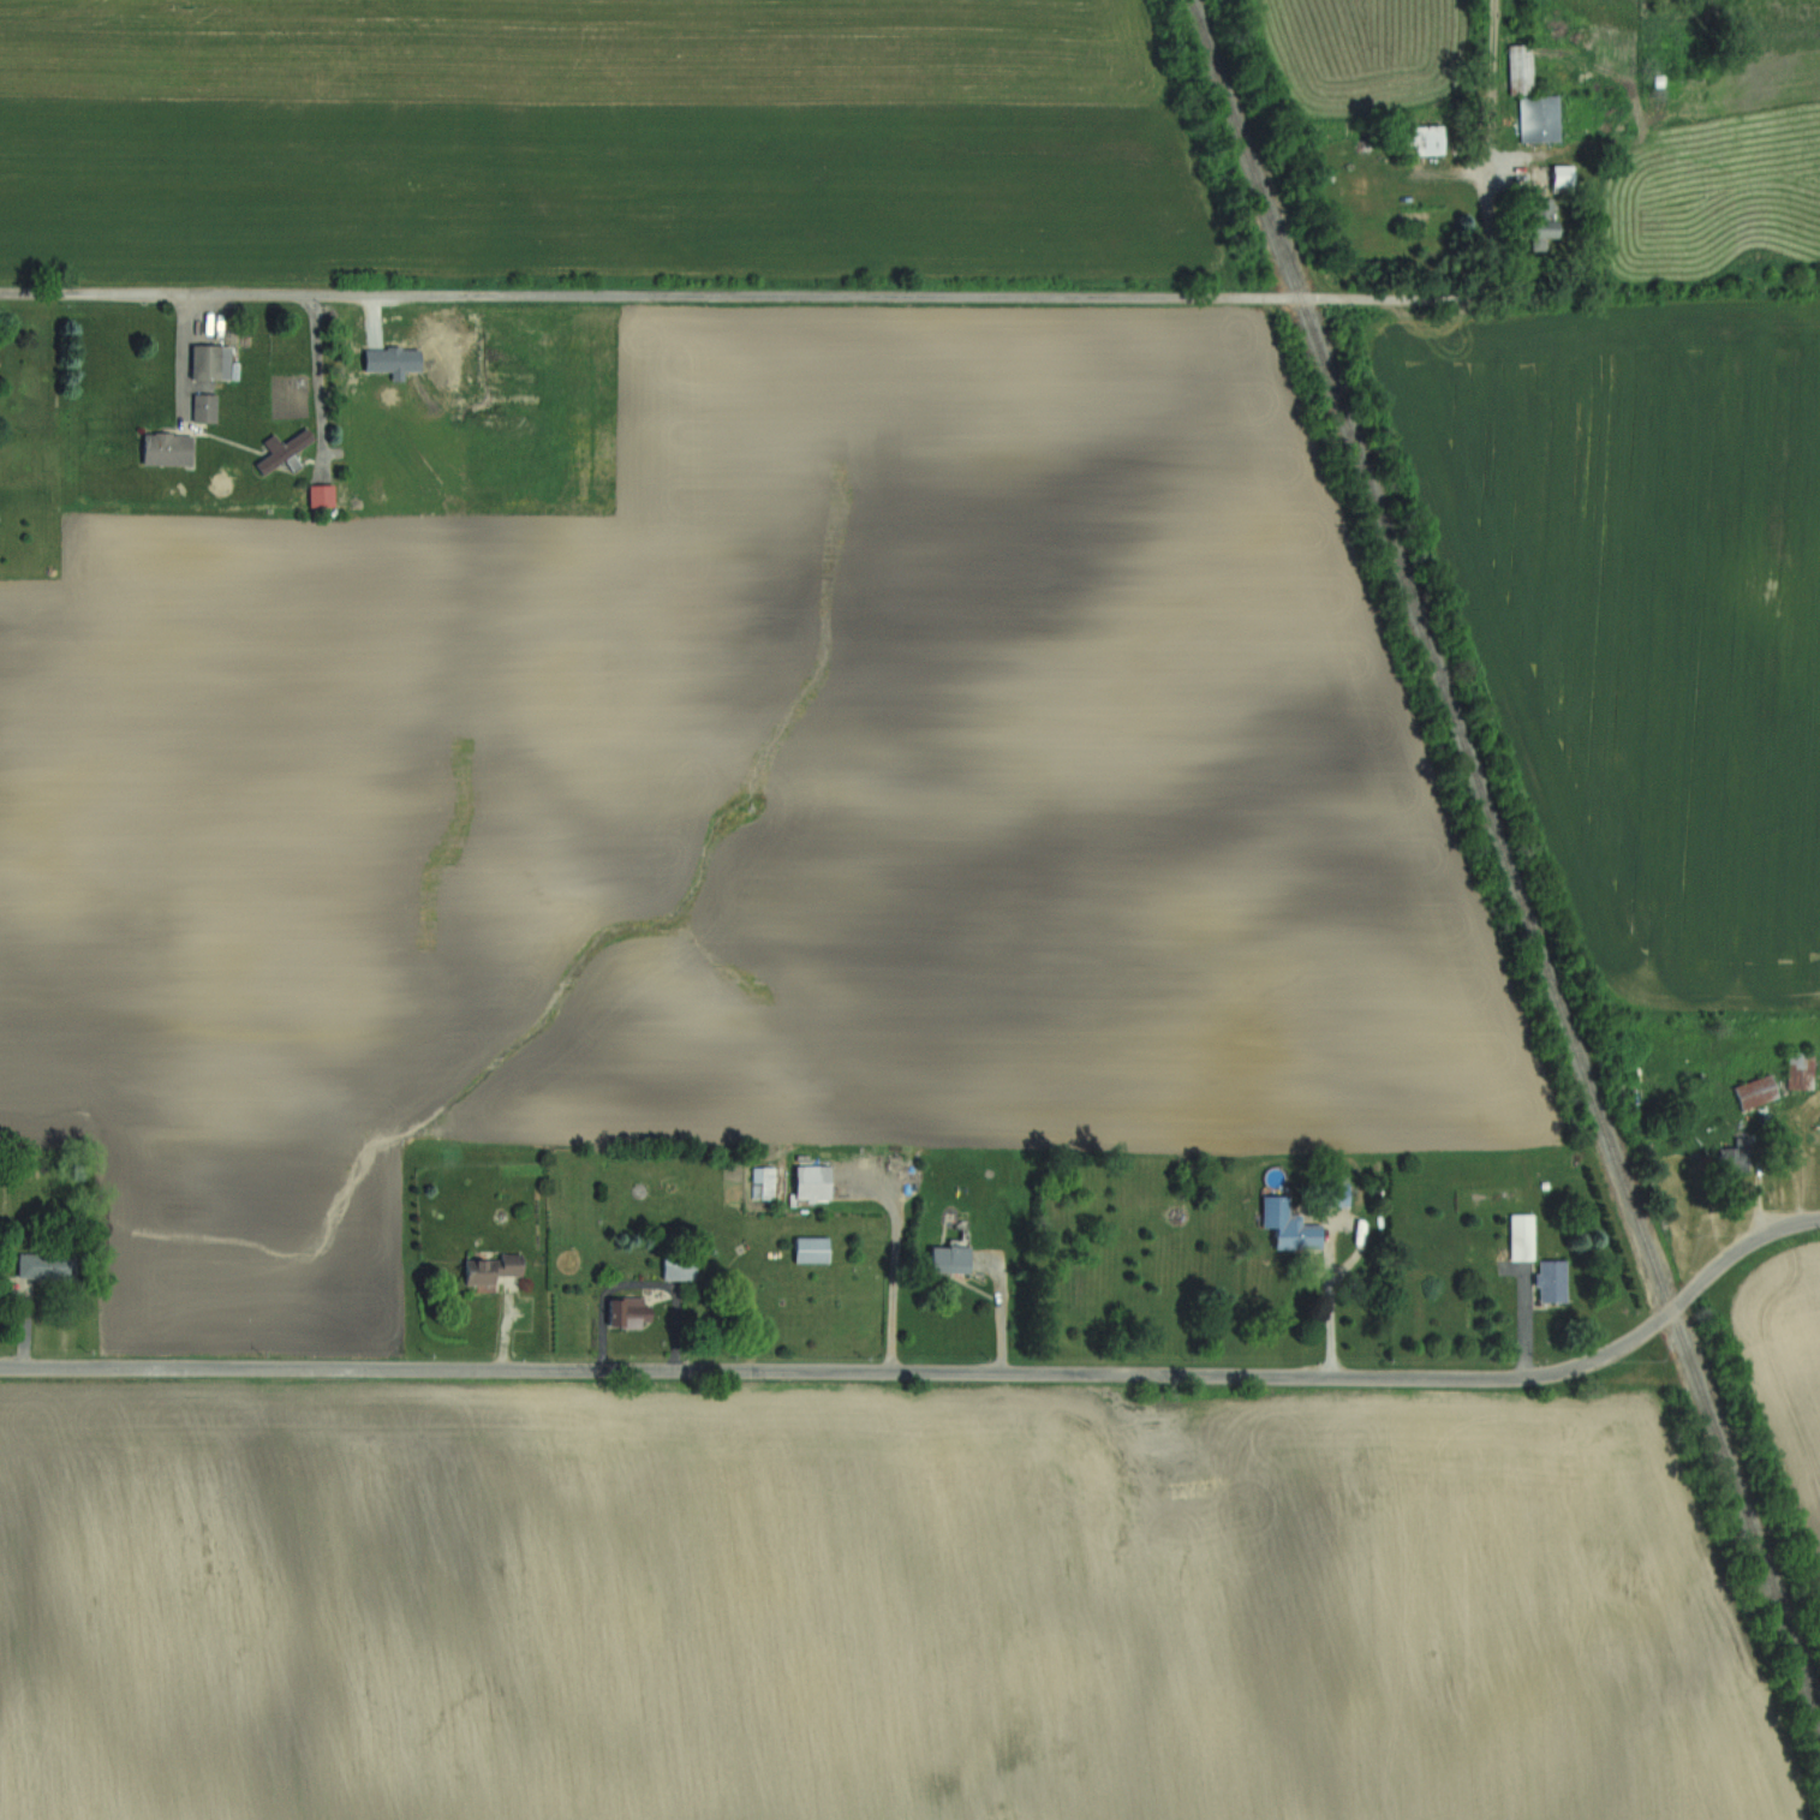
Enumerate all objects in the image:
building: (1522, 68)
road: (1491, 89)
building: (1540, 118)
building: (1425, 136)
building: (1564, 177)
building: (1545, 225)
road: (1485, 247)
road: (729, 297)
road: (181, 358)
building: (213, 360)
road: (323, 382)
building: (207, 407)
building: (282, 448)
building: (168, 449)
building: (322, 495)
railway: (1503, 847)
building: (1803, 1069)
building: (1758, 1091)
road: (1772, 1118)
building: (1740, 1148)
building: (757, 1170)
building: (813, 1181)
building: (756, 1189)
building: (1330, 1189)
building: (1289, 1224)
building: (1523, 1237)
building: (813, 1249)
road: (896, 1257)
building: (950, 1259)
building: (48, 1266)
building: (493, 1267)
building: (1555, 1278)
road: (642, 1283)
road: (1331, 1301)
road: (1003, 1311)
building: (633, 1313)
road: (1527, 1325)
road: (25, 1332)
road: (506, 1335)
road: (932, 1372)

